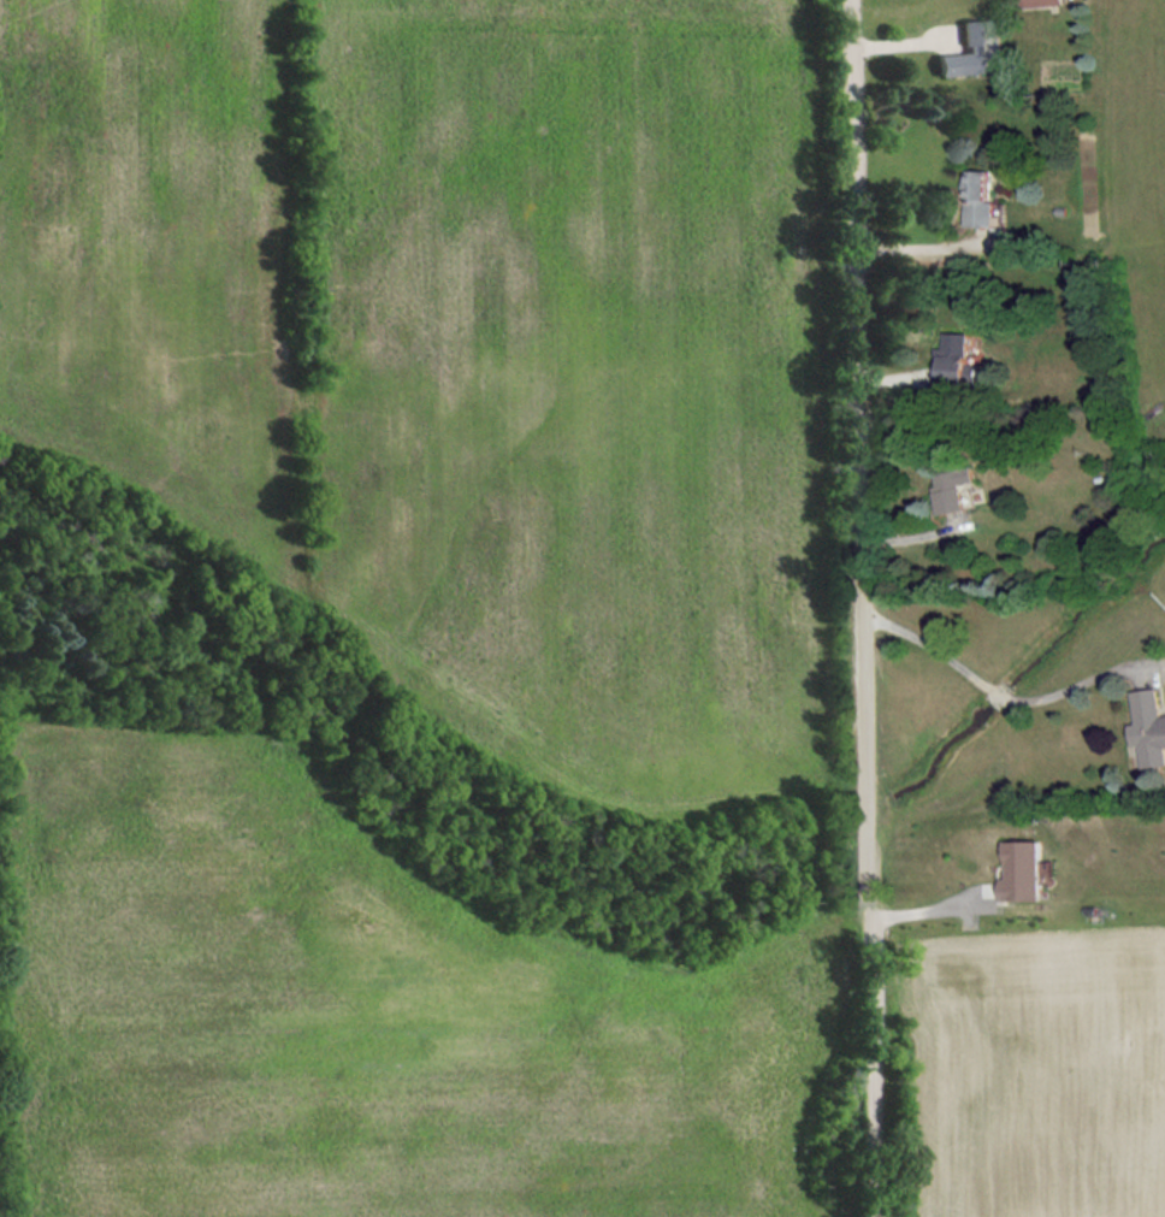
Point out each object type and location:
building: (1041, 1)
building: (972, 51)
building: (980, 197)
road: (928, 244)
building: (956, 360)
building: (950, 488)
road: (861, 608)
road: (1005, 695)
building: (1152, 725)
building: (1023, 870)
road: (933, 905)

